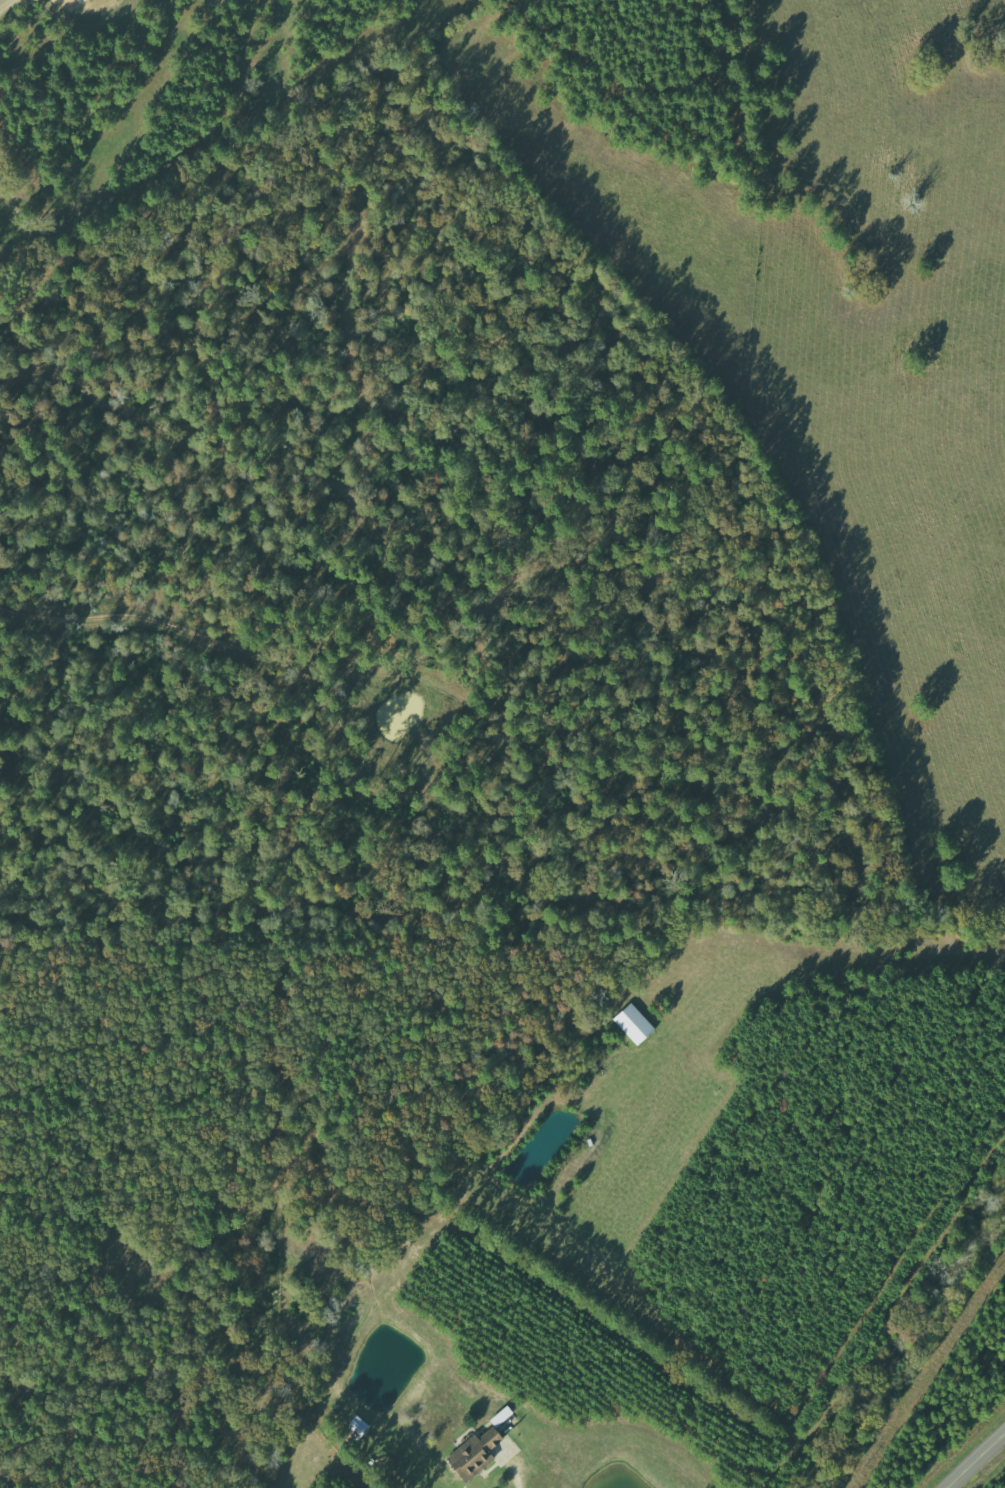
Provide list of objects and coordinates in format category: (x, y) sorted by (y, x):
building: (636, 1024)
building: (505, 1416)
building: (477, 1456)
road: (975, 1459)

